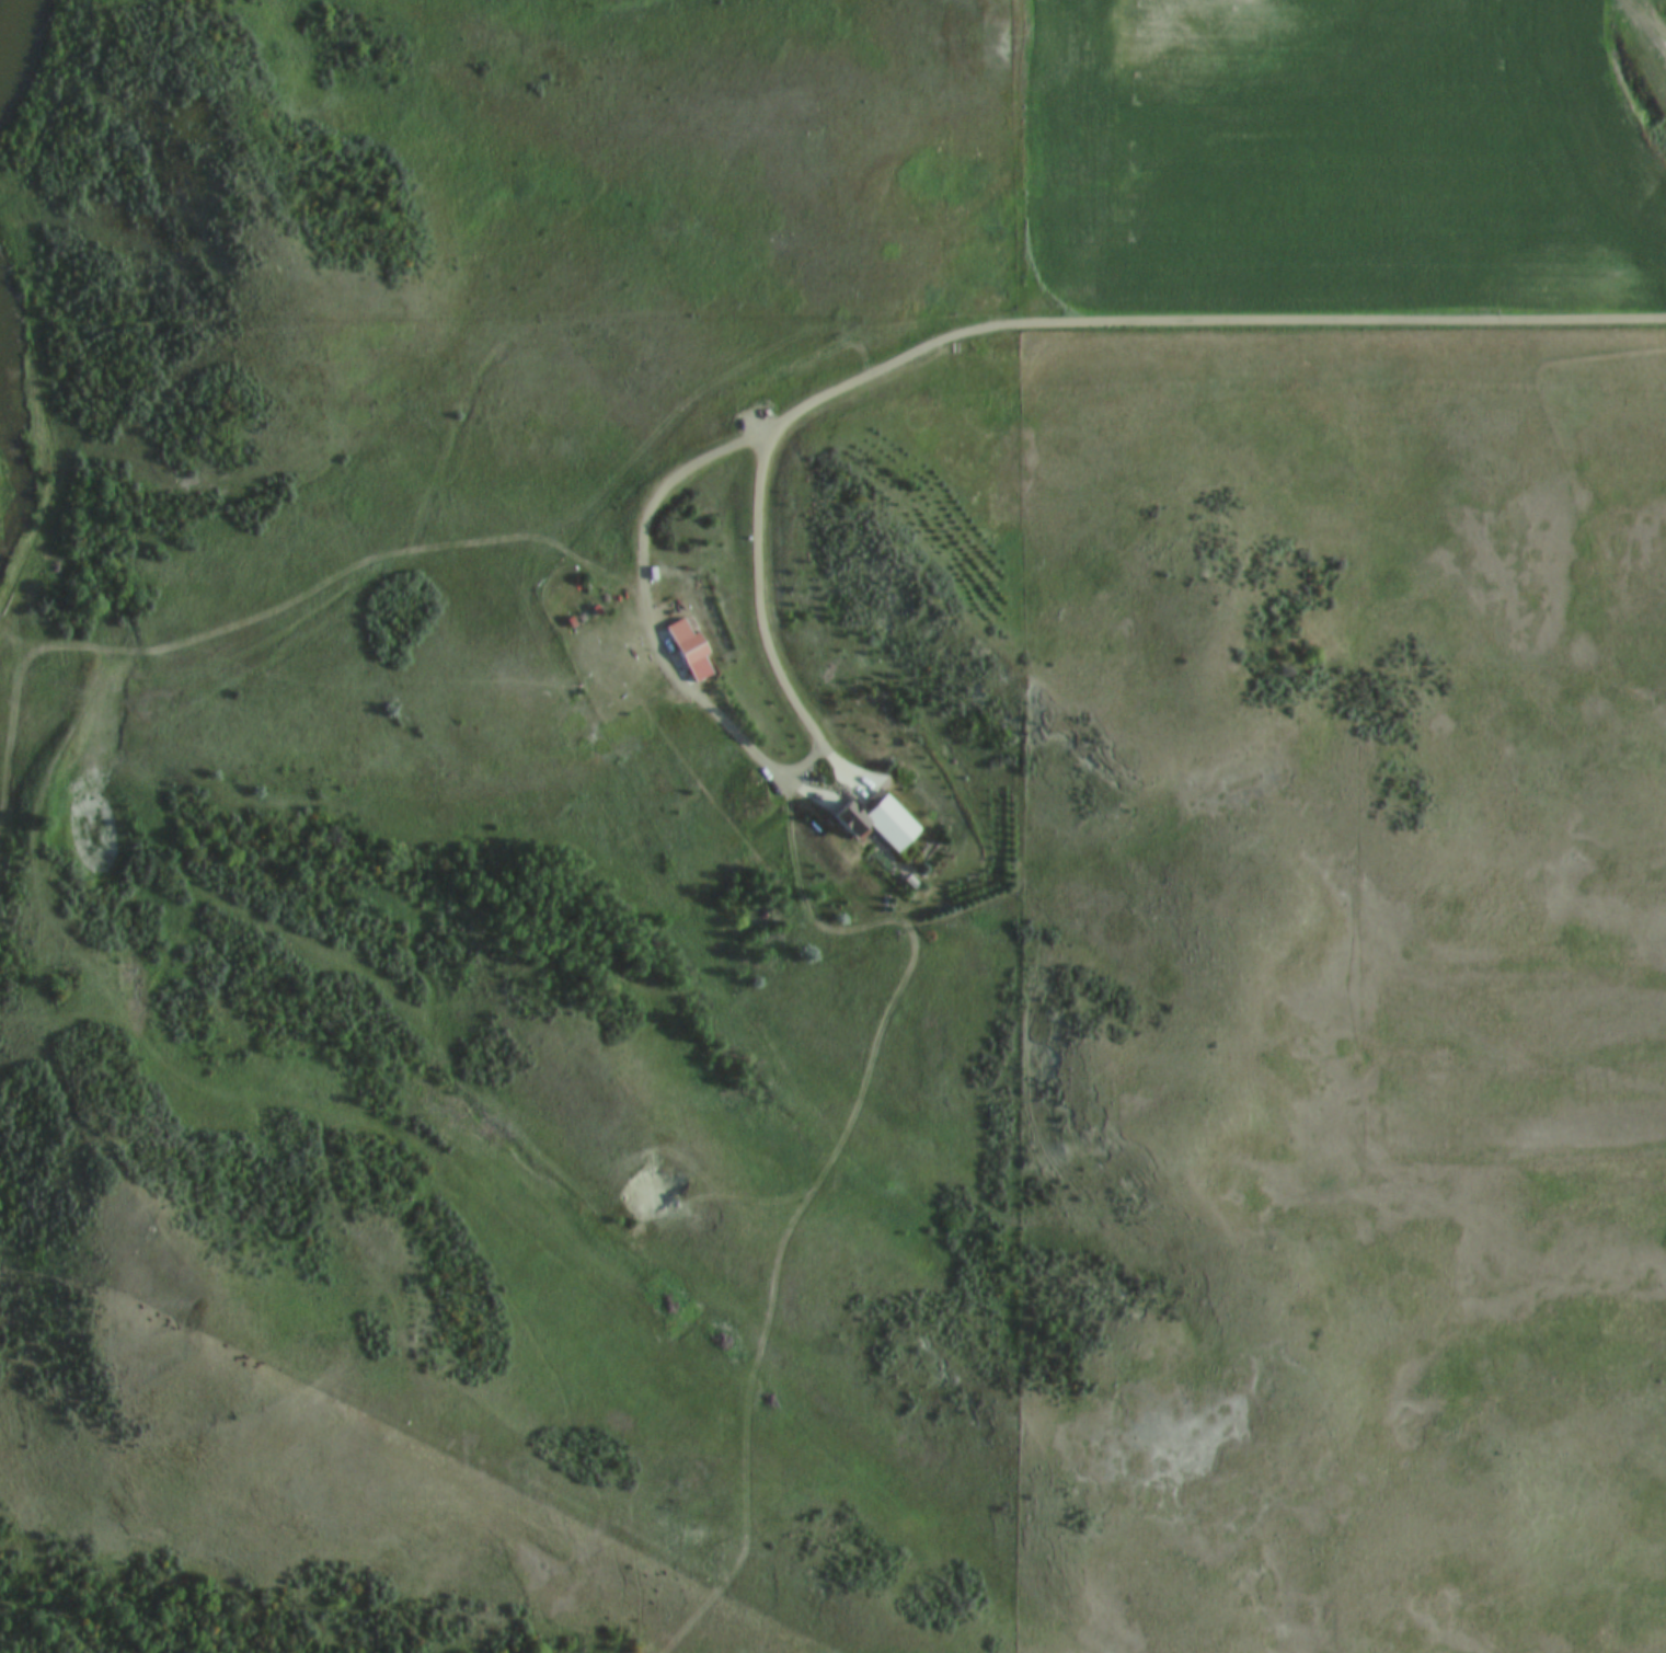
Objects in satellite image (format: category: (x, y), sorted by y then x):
road: (889, 186)
road: (1200, 324)
building: (682, 645)
road: (782, 774)
building: (874, 823)

